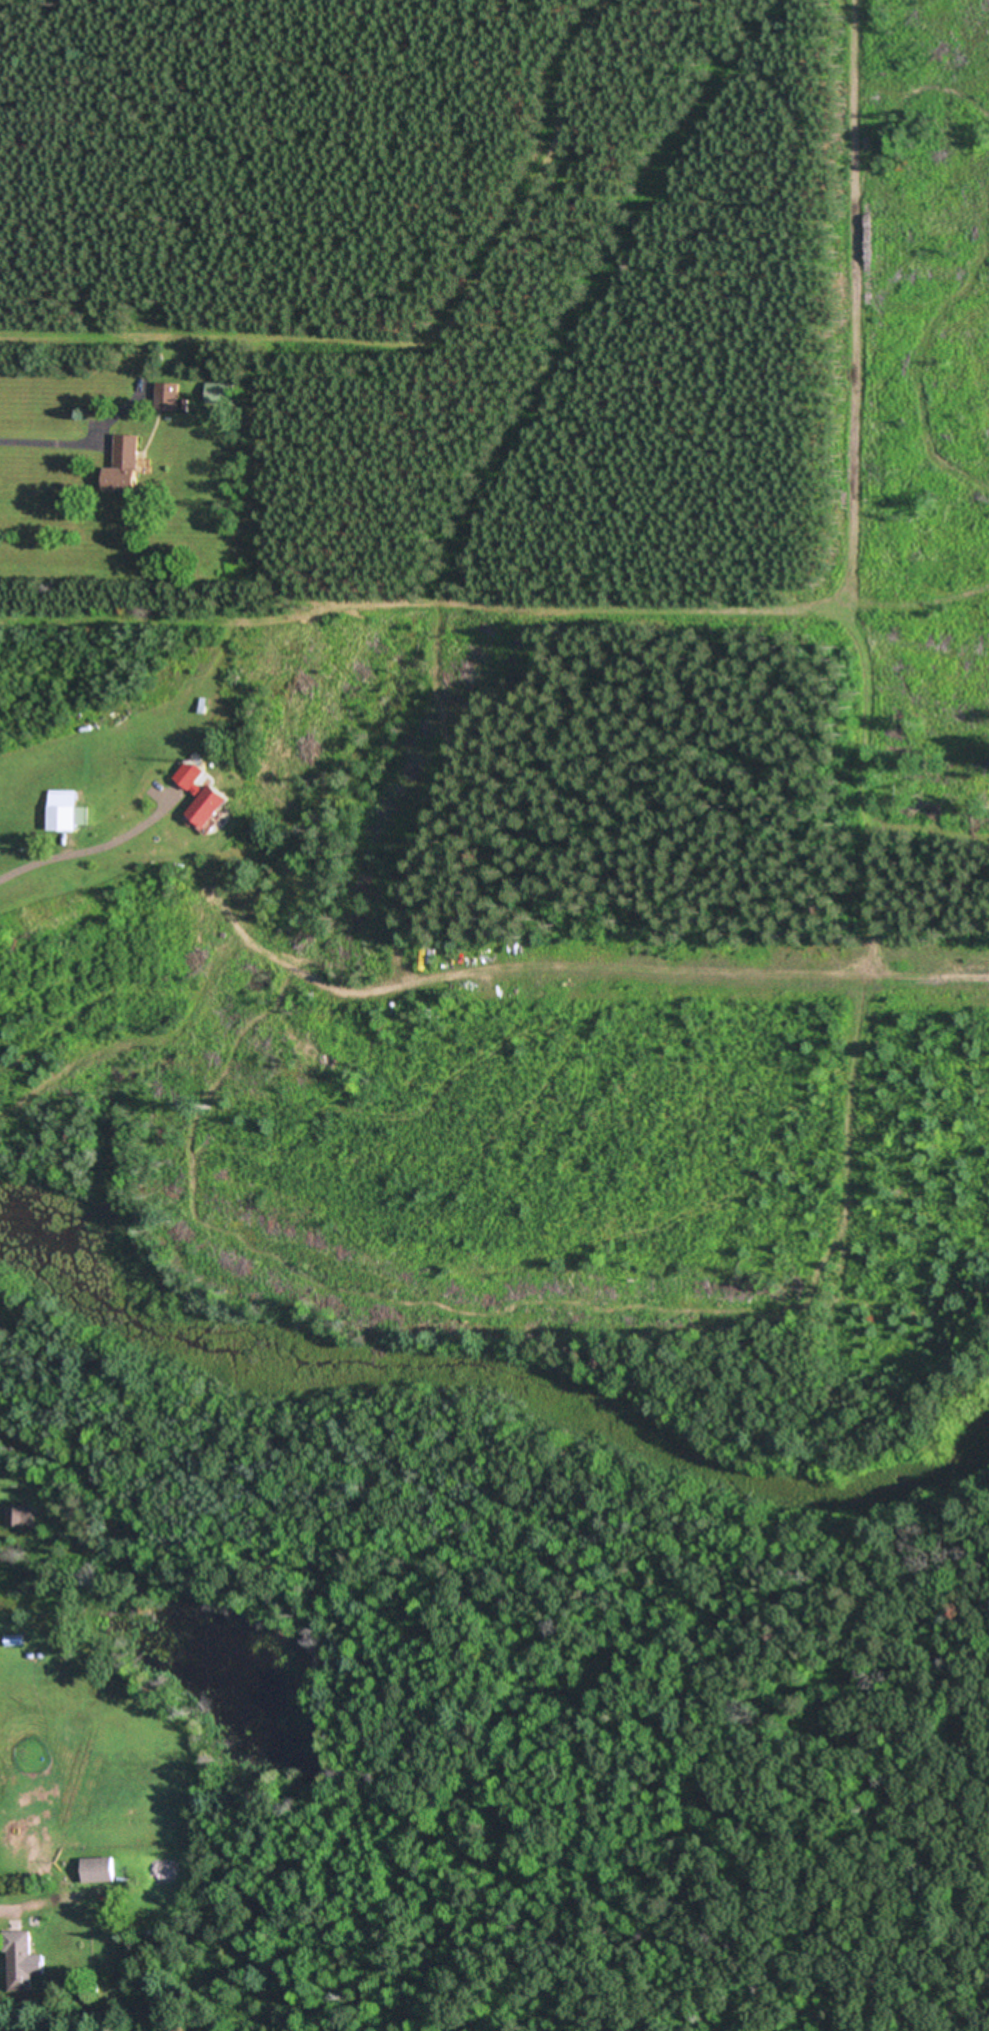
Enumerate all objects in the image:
building: (221, 391)
building: (168, 396)
road: (50, 442)
building: (126, 463)
building: (191, 773)
building: (210, 805)
building: (64, 809)
road: (85, 846)
building: (12, 1639)
building: (99, 1870)
road: (48, 1898)
building: (19, 1959)

